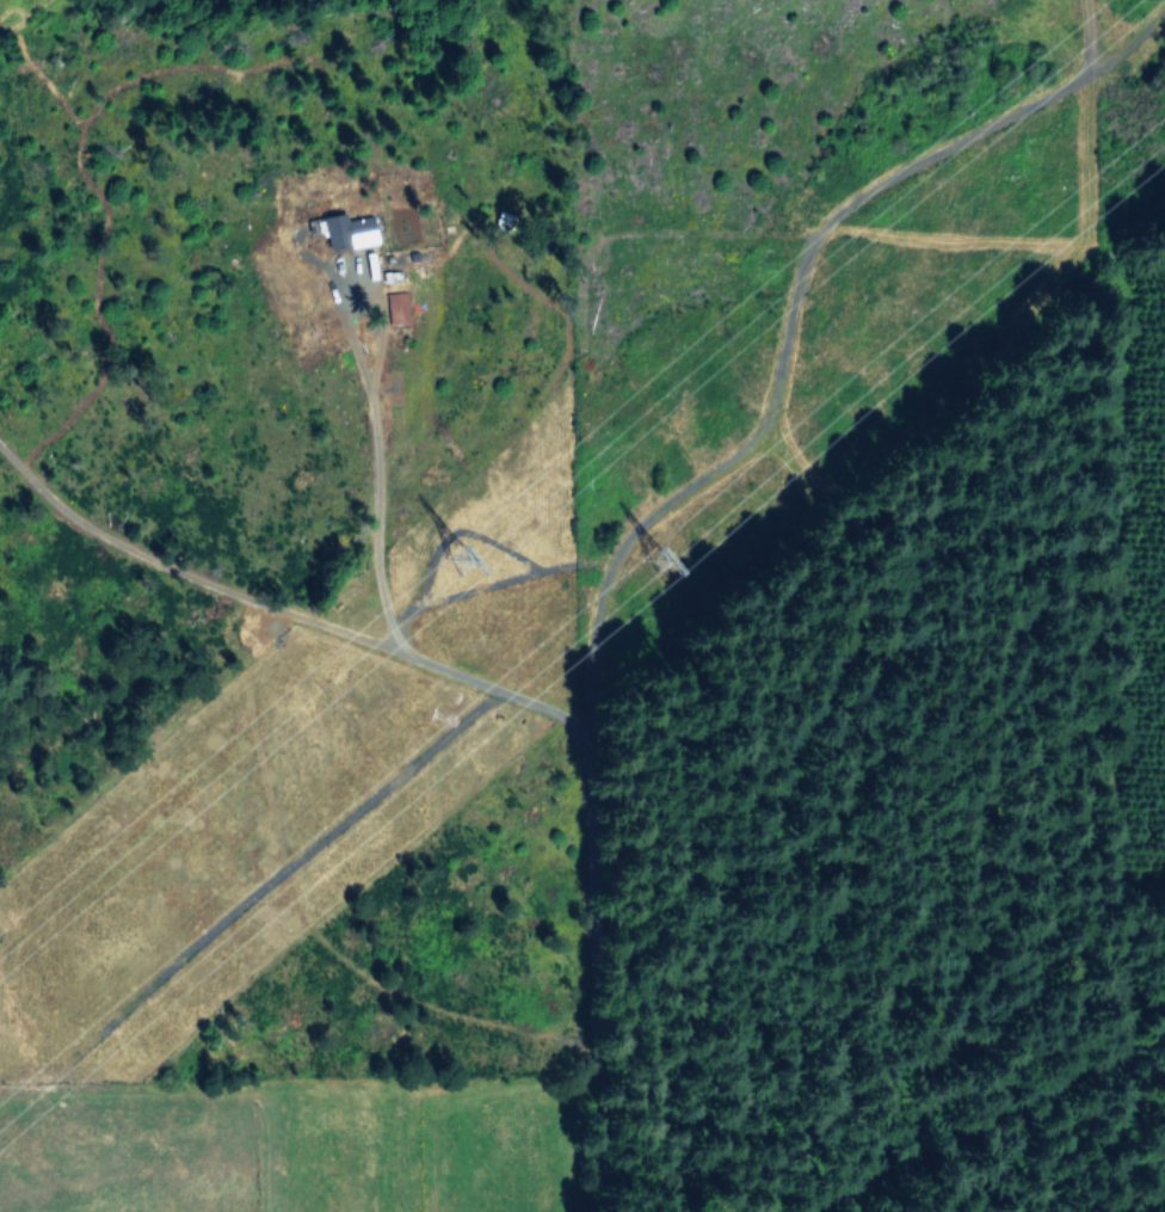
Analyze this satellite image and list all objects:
building: (347, 229)
building: (396, 300)
road: (371, 503)
power tower: (654, 554)
power tower: (455, 558)
road: (495, 690)
crop: (315, 1137)

